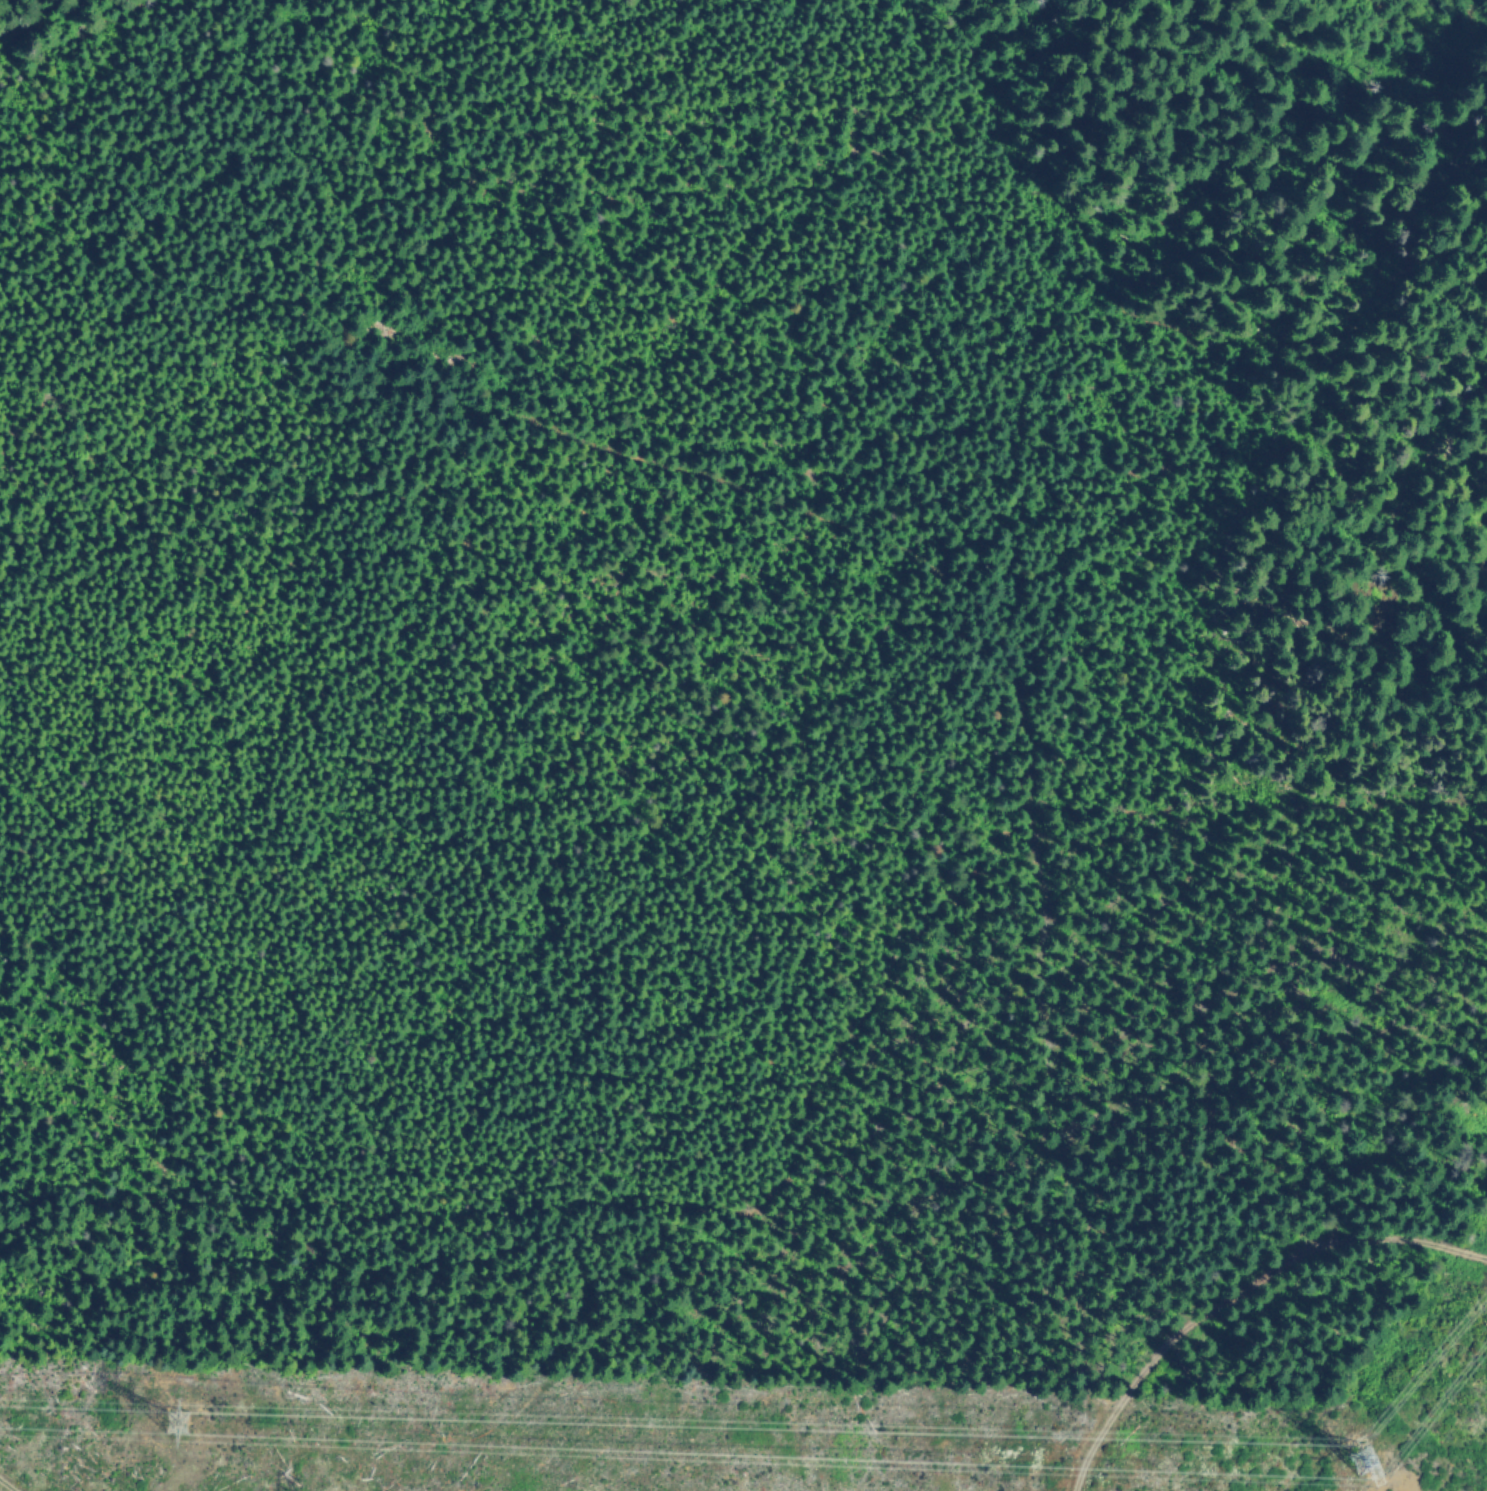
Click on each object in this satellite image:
power tower: (201, 1435)
power tower: (1385, 1464)
road: (12, 1480)

